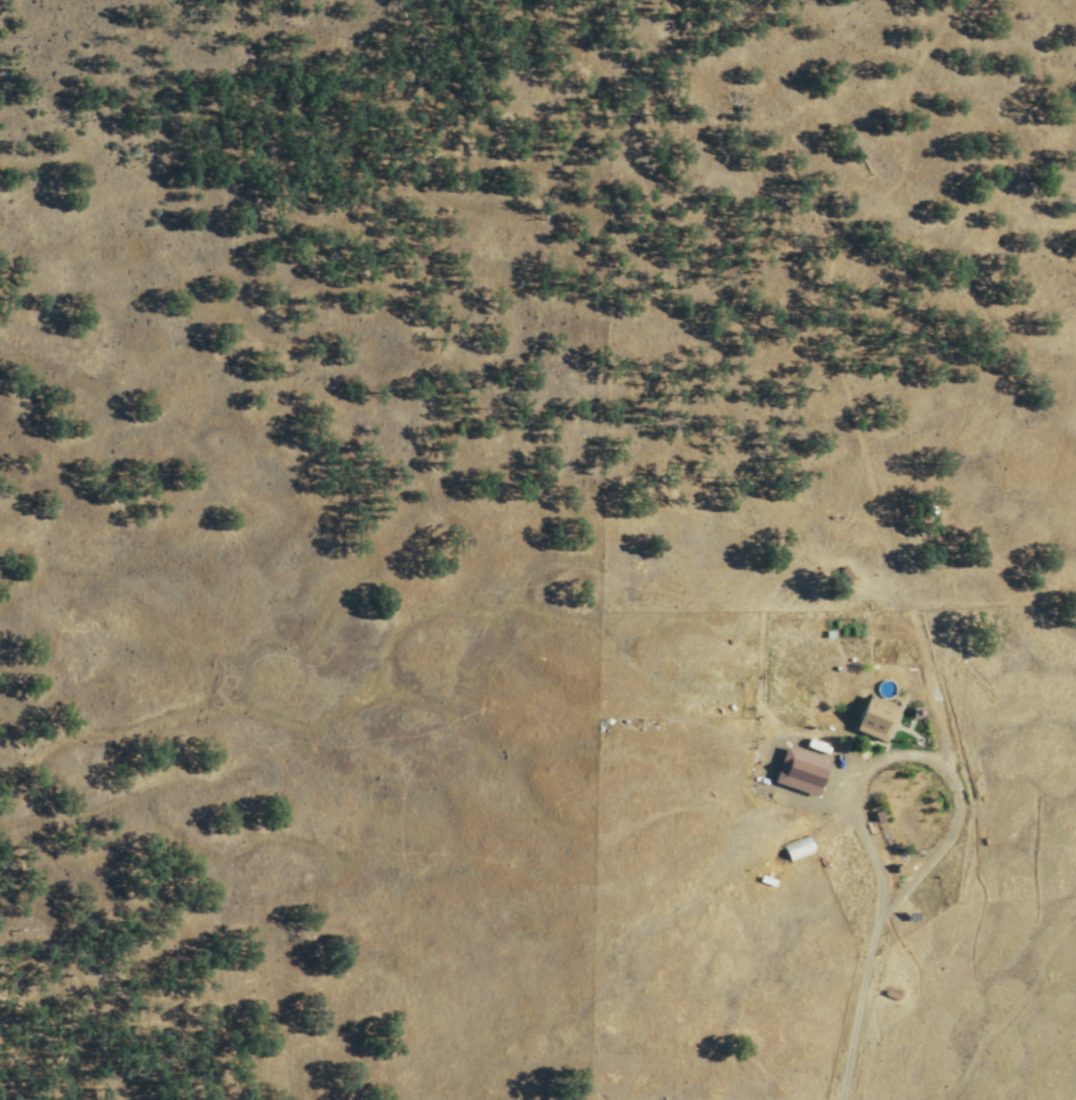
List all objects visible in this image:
building: (875, 719)
building: (799, 771)

